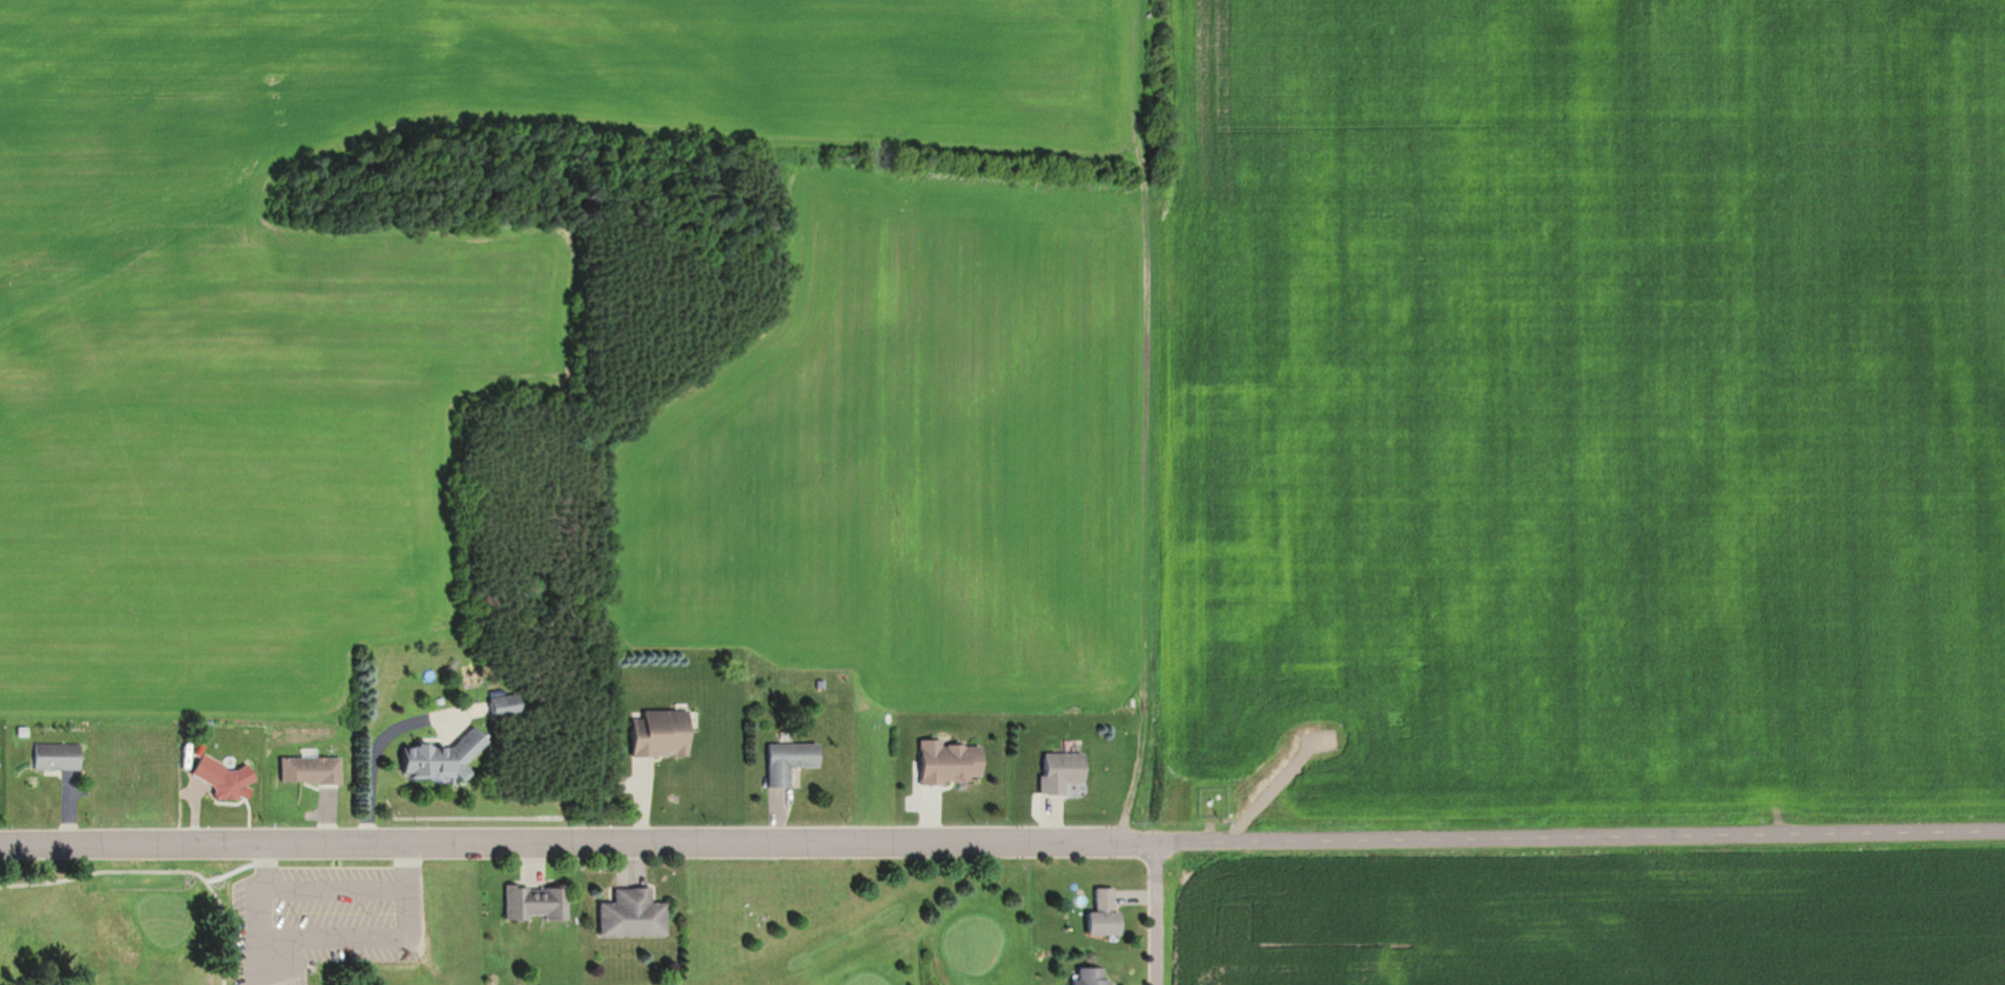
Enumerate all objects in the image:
building: (510, 706)
building: (667, 734)
building: (59, 757)
building: (444, 758)
building: (794, 761)
building: (954, 763)
building: (313, 770)
building: (1067, 773)
building: (0, 776)
building: (225, 778)
road: (1706, 838)
road: (703, 847)
road: (268, 858)
road: (411, 858)
road: (159, 871)
road: (269, 878)
road: (405, 882)
road: (332, 893)
building: (540, 901)
building: (637, 913)
building: (1108, 913)
road: (1157, 915)
parking lot: (324, 920)
park: (218, 930)
building: (1093, 975)

